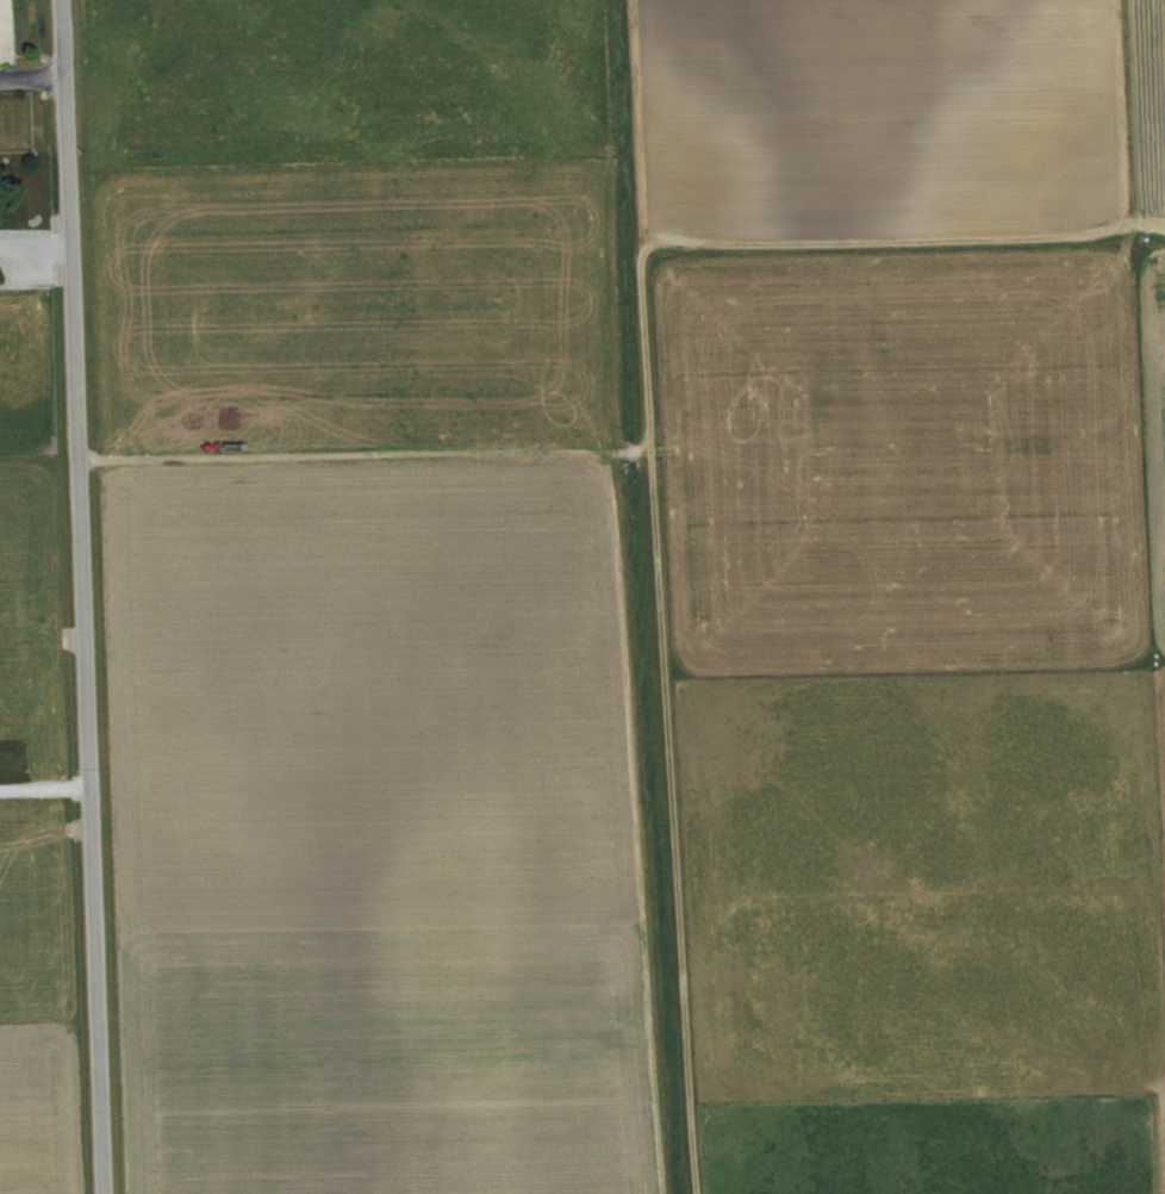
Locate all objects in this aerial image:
road: (33, 74)
road: (83, 596)
road: (45, 788)

